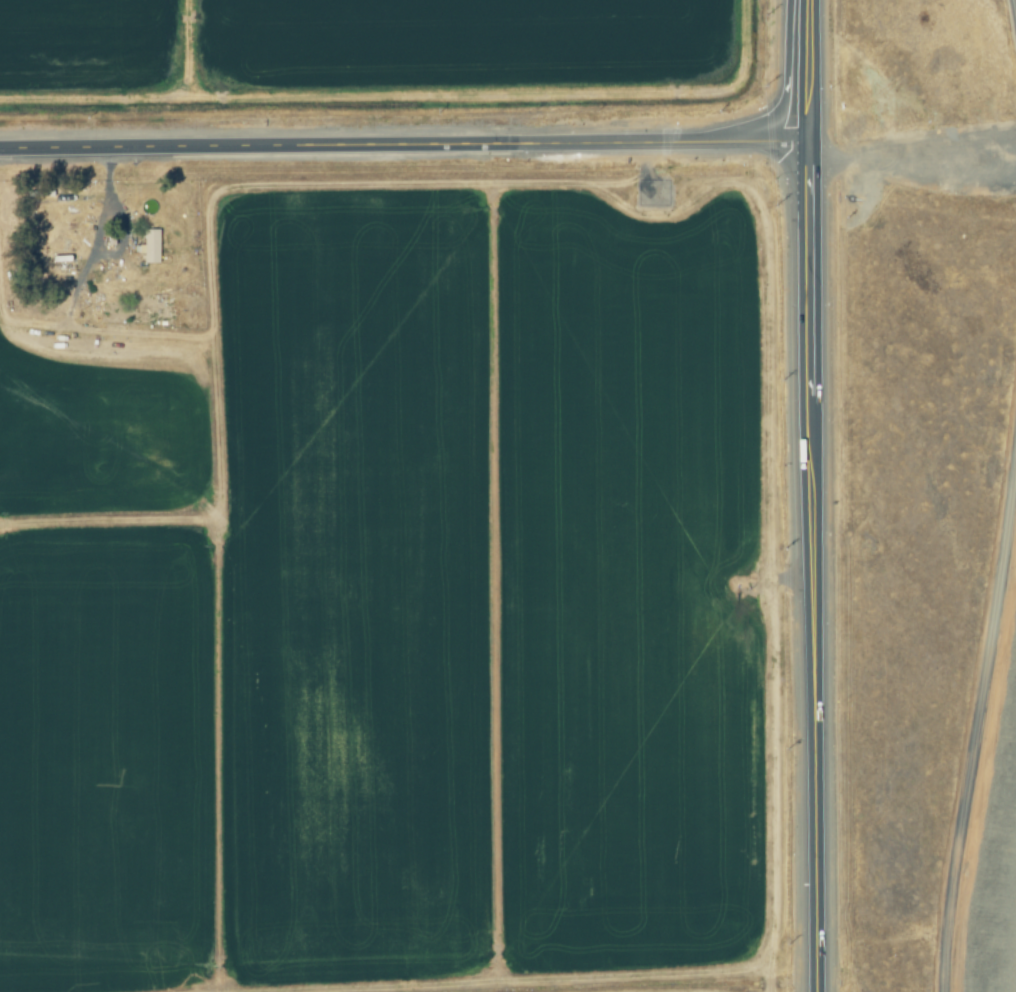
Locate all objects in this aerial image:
road: (818, 73)
road: (409, 150)
road: (918, 151)
building: (152, 245)
road: (820, 569)
road: (977, 725)

